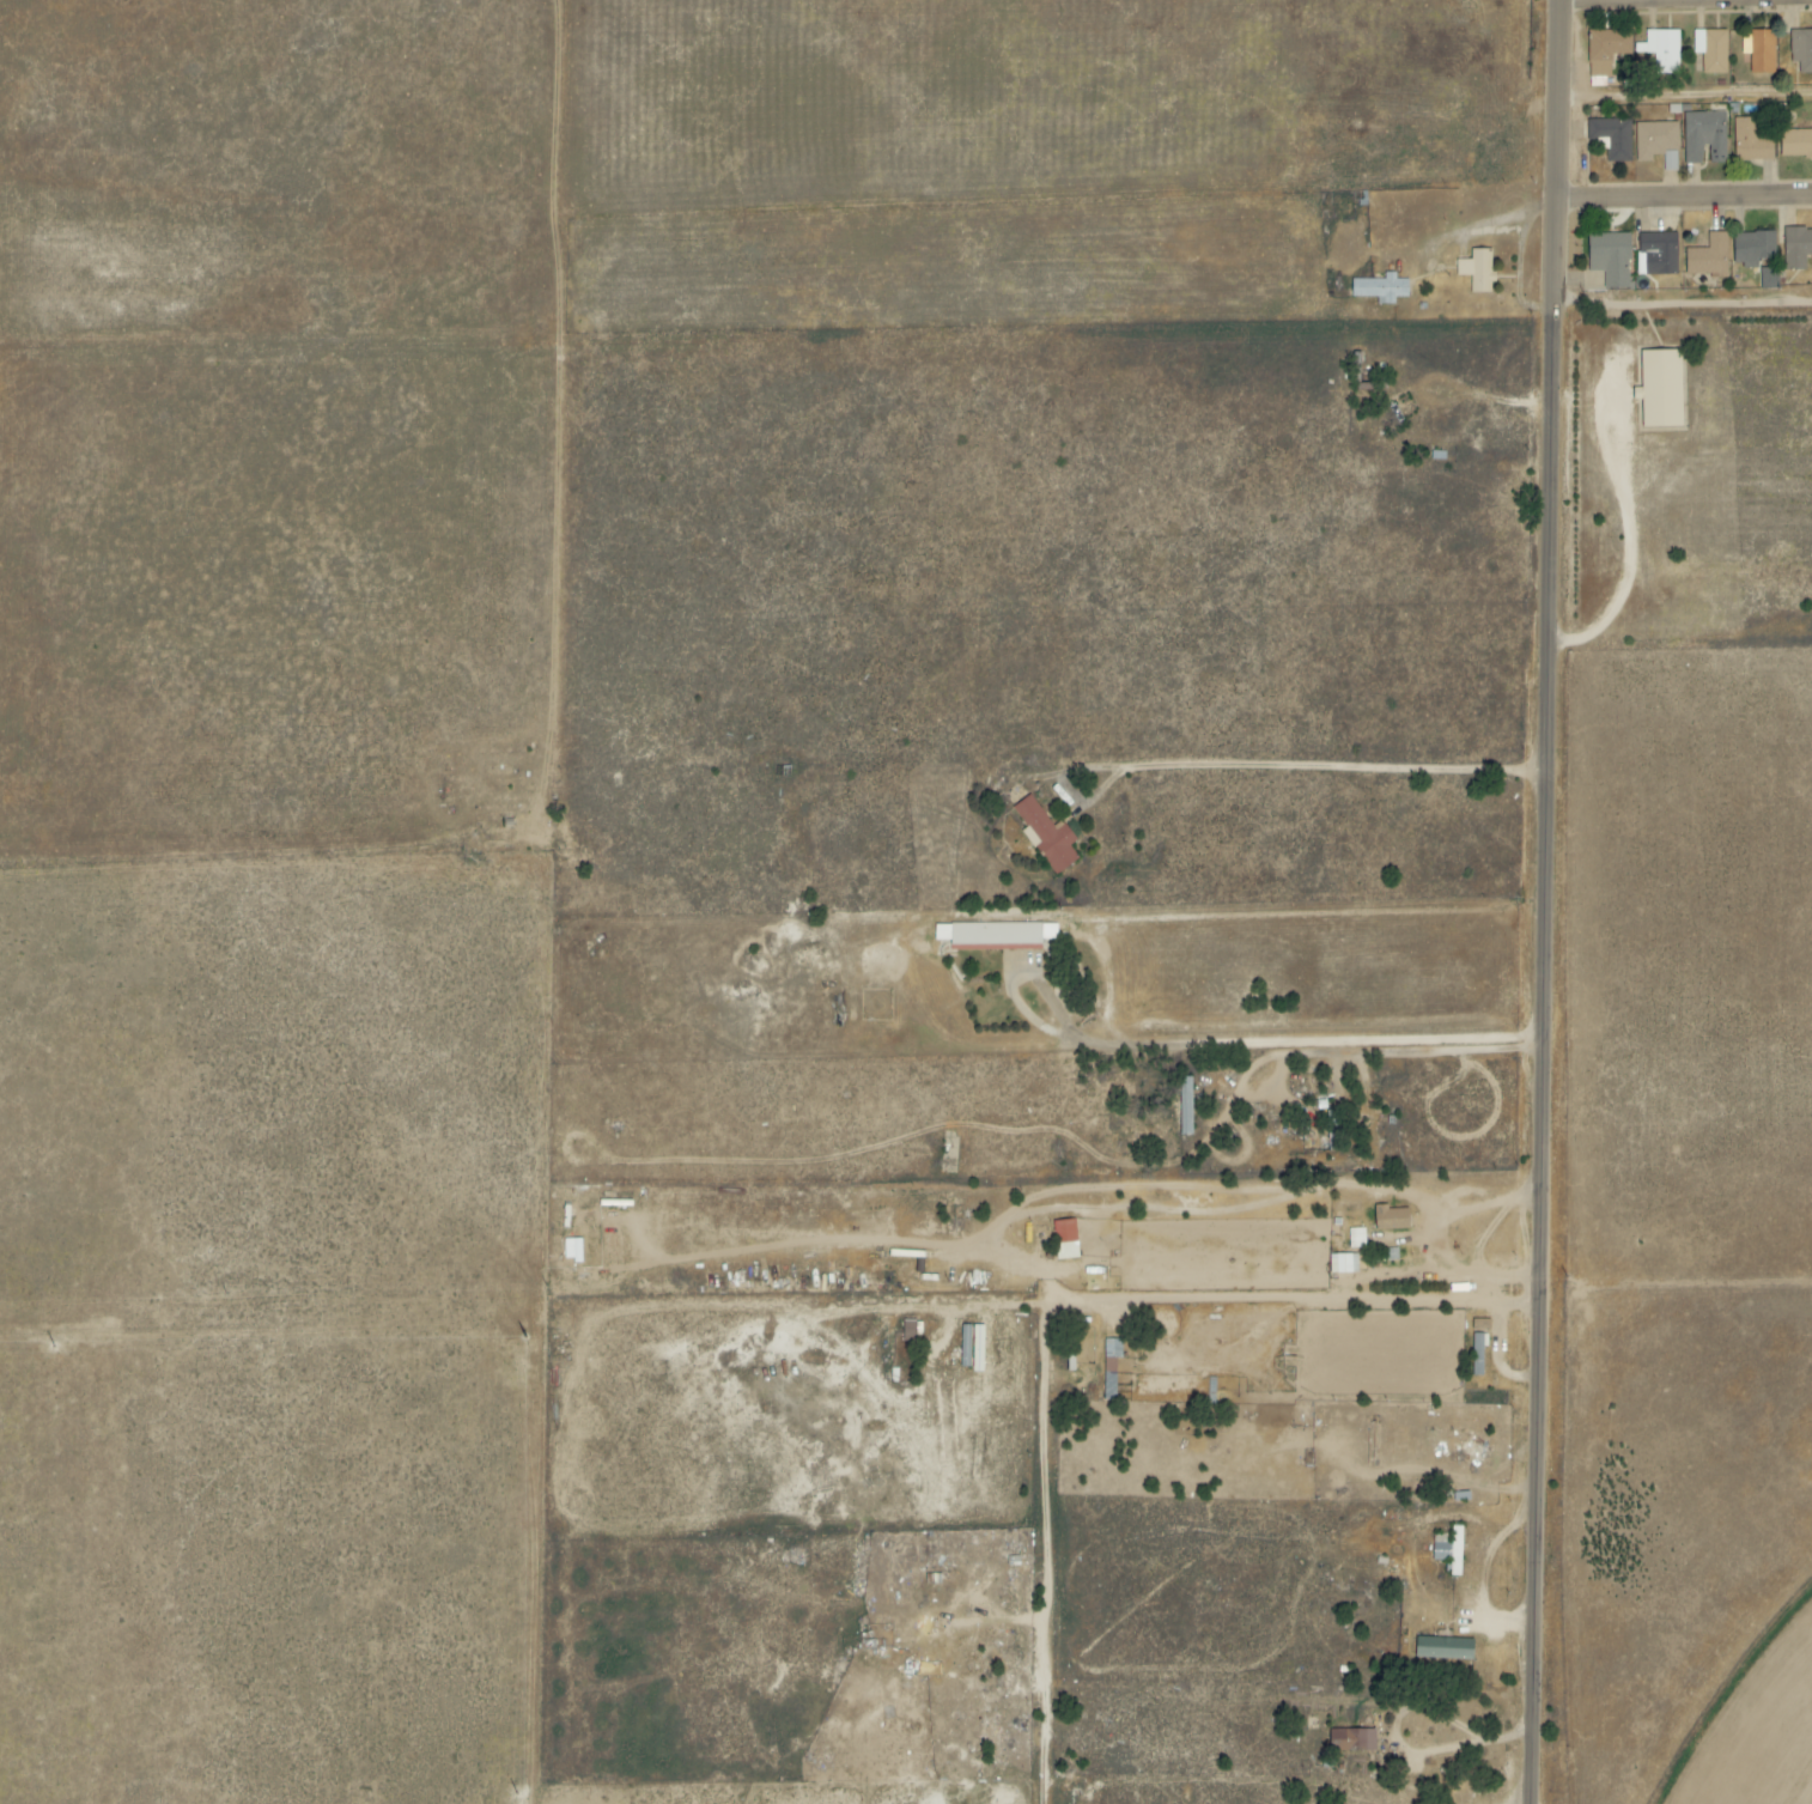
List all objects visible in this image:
road: (1685, 2)
building: (1661, 50)
building: (1710, 50)
building: (1758, 50)
building: (1800, 50)
building: (1605, 53)
road: (1685, 97)
road: (1558, 102)
building: (1612, 136)
building: (1704, 136)
building: (1750, 140)
building: (1656, 142)
building: (1795, 144)
road: (1684, 201)
road: (1476, 236)
building: (1752, 248)
building: (1796, 248)
building: (1659, 253)
building: (1708, 257)
building: (1610, 259)
building: (1477, 271)
building: (1769, 278)
building: (1380, 288)
road: (1683, 308)
building: (1660, 389)
road: (1636, 542)
road: (1344, 771)
road: (1107, 772)
building: (1045, 837)
building: (996, 935)
road: (1552, 1003)
road: (1046, 1025)
road: (1318, 1041)
road: (1384, 1056)
building: (1185, 1105)
building: (1390, 1219)
building: (1356, 1238)
building: (1064, 1239)
building: (1340, 1263)
road: (1235, 1302)
building: (1480, 1325)
building: (908, 1330)
building: (1479, 1342)
building: (1109, 1366)
building: (1448, 1549)
road: (1062, 1556)
building: (1443, 1648)
building: (1351, 1741)
road: (1515, 1743)
road: (1446, 1755)

